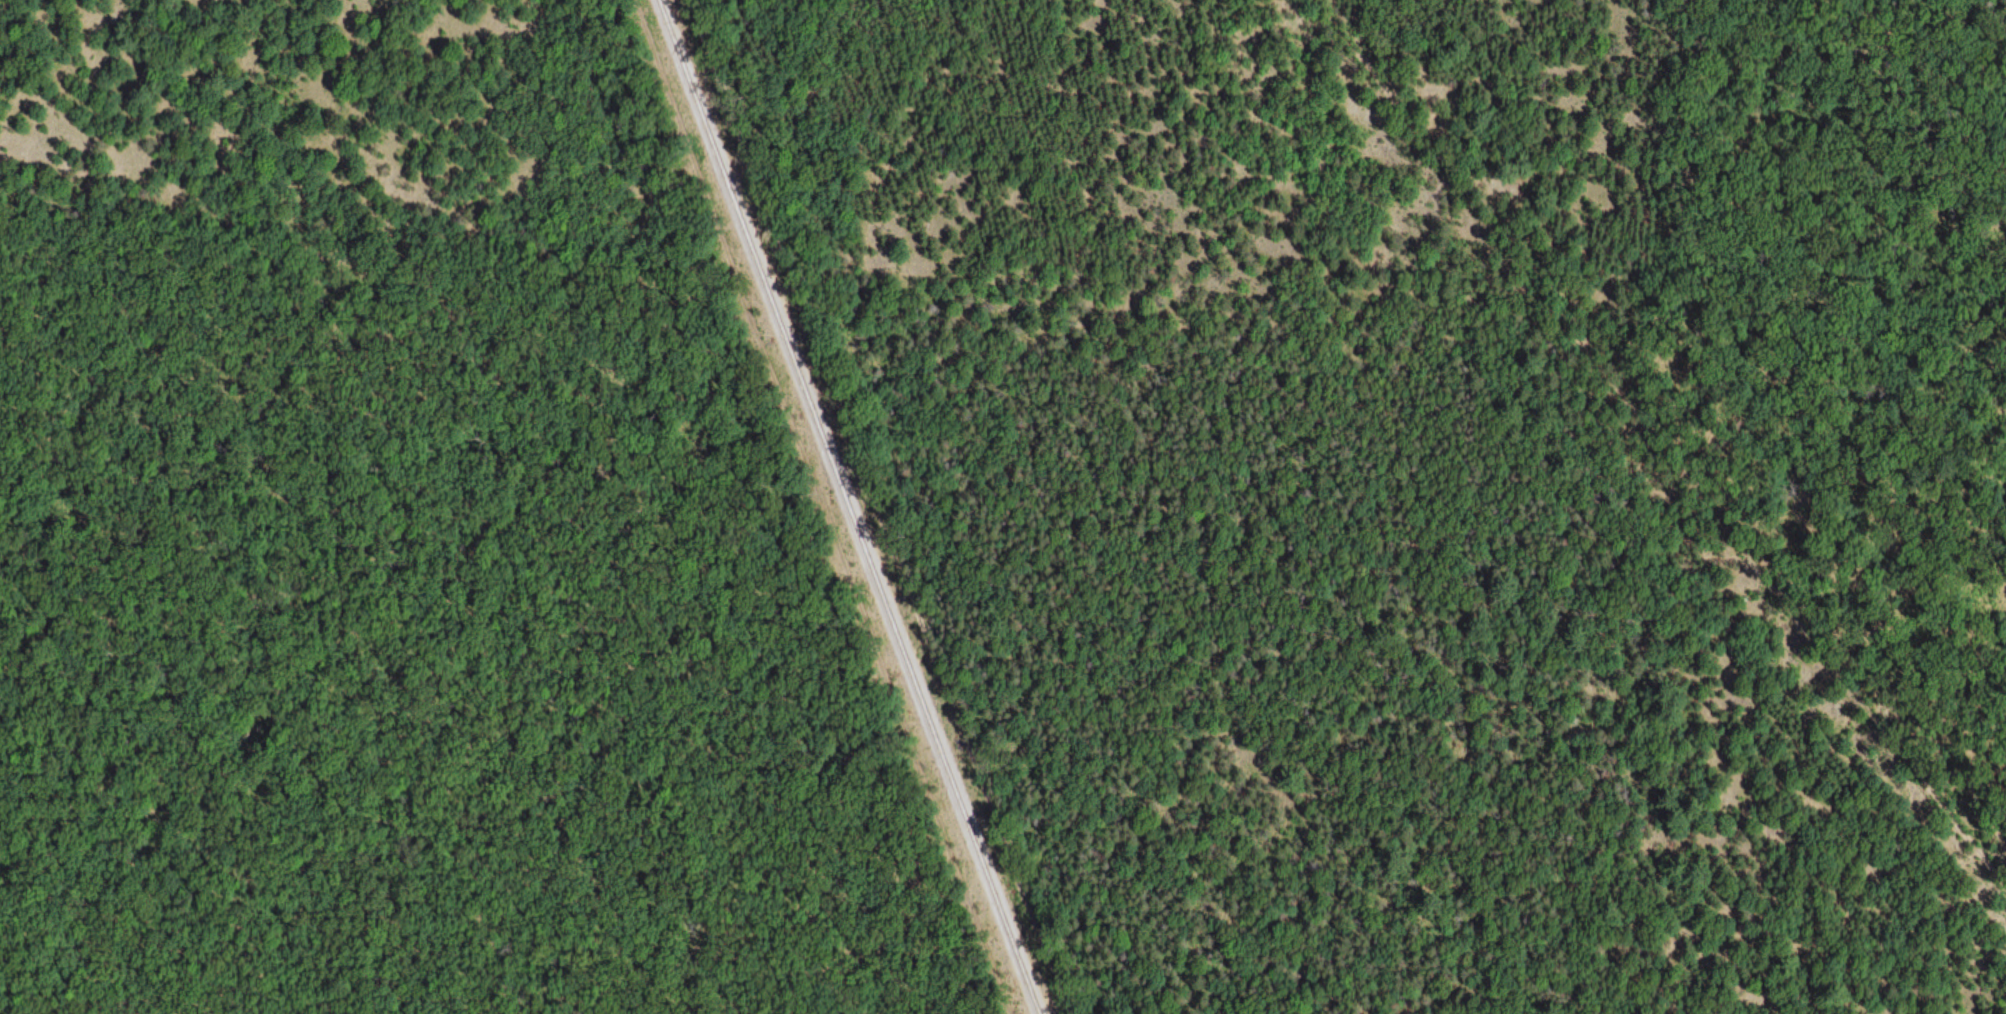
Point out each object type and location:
road: (1657, 446)
railway: (848, 506)

